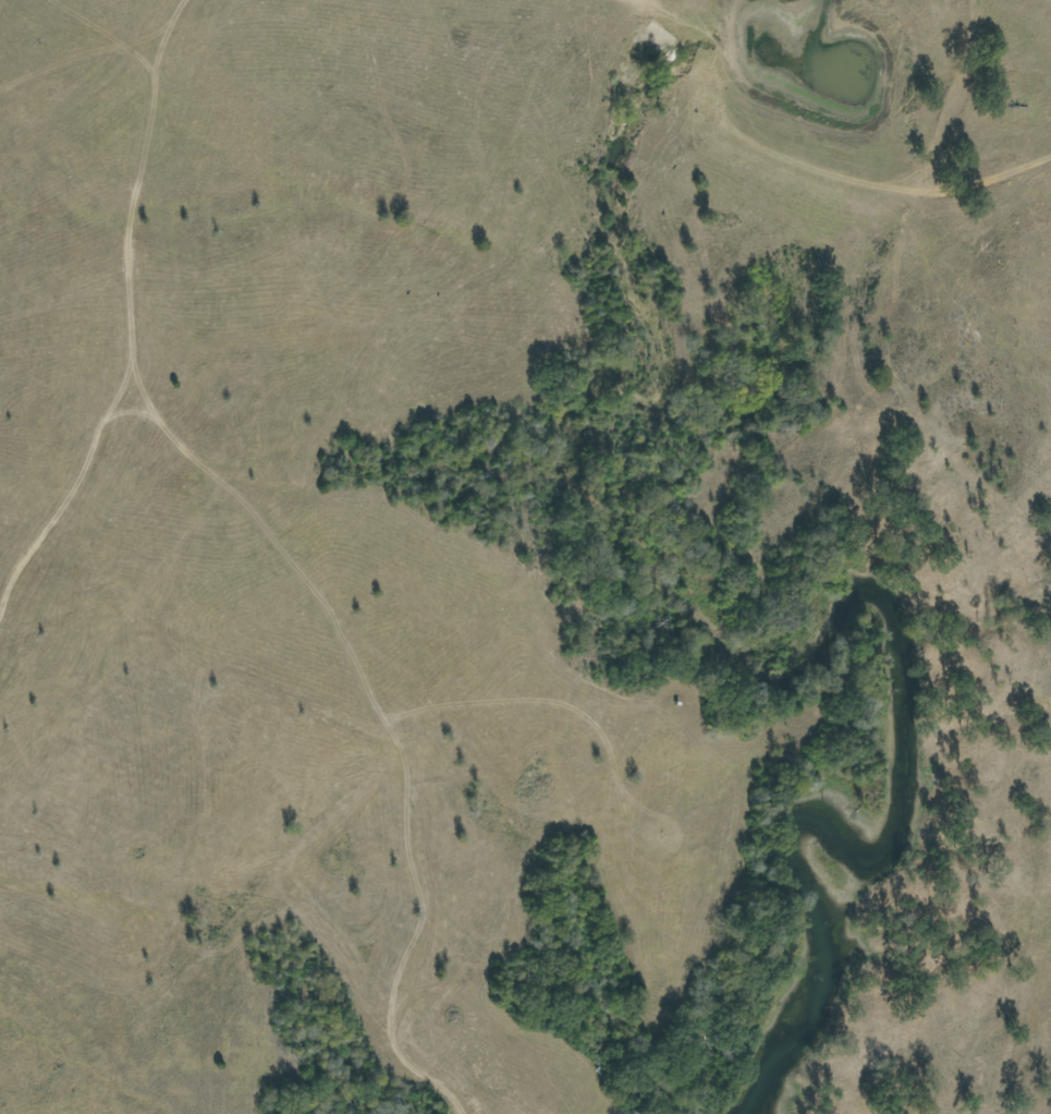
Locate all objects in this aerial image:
road: (368, 606)

